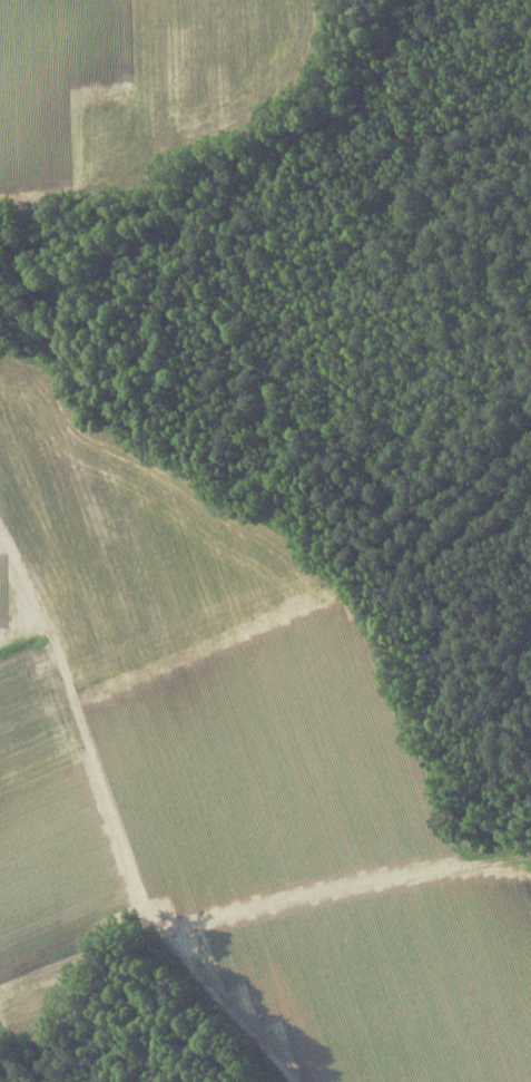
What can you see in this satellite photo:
crop: (147, 86)
crop: (210, 662)
road: (118, 827)
crop: (49, 842)
road: (342, 883)
crop: (390, 981)

